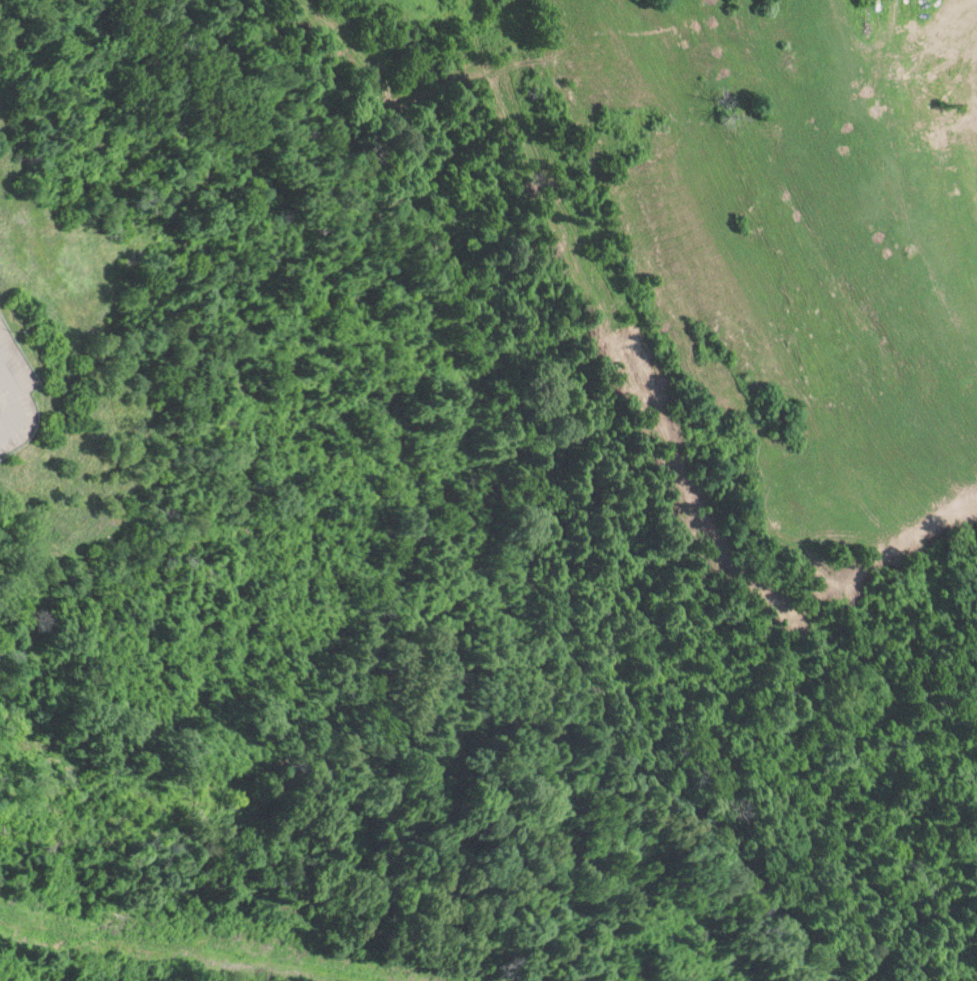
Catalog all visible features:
road: (11, 394)

